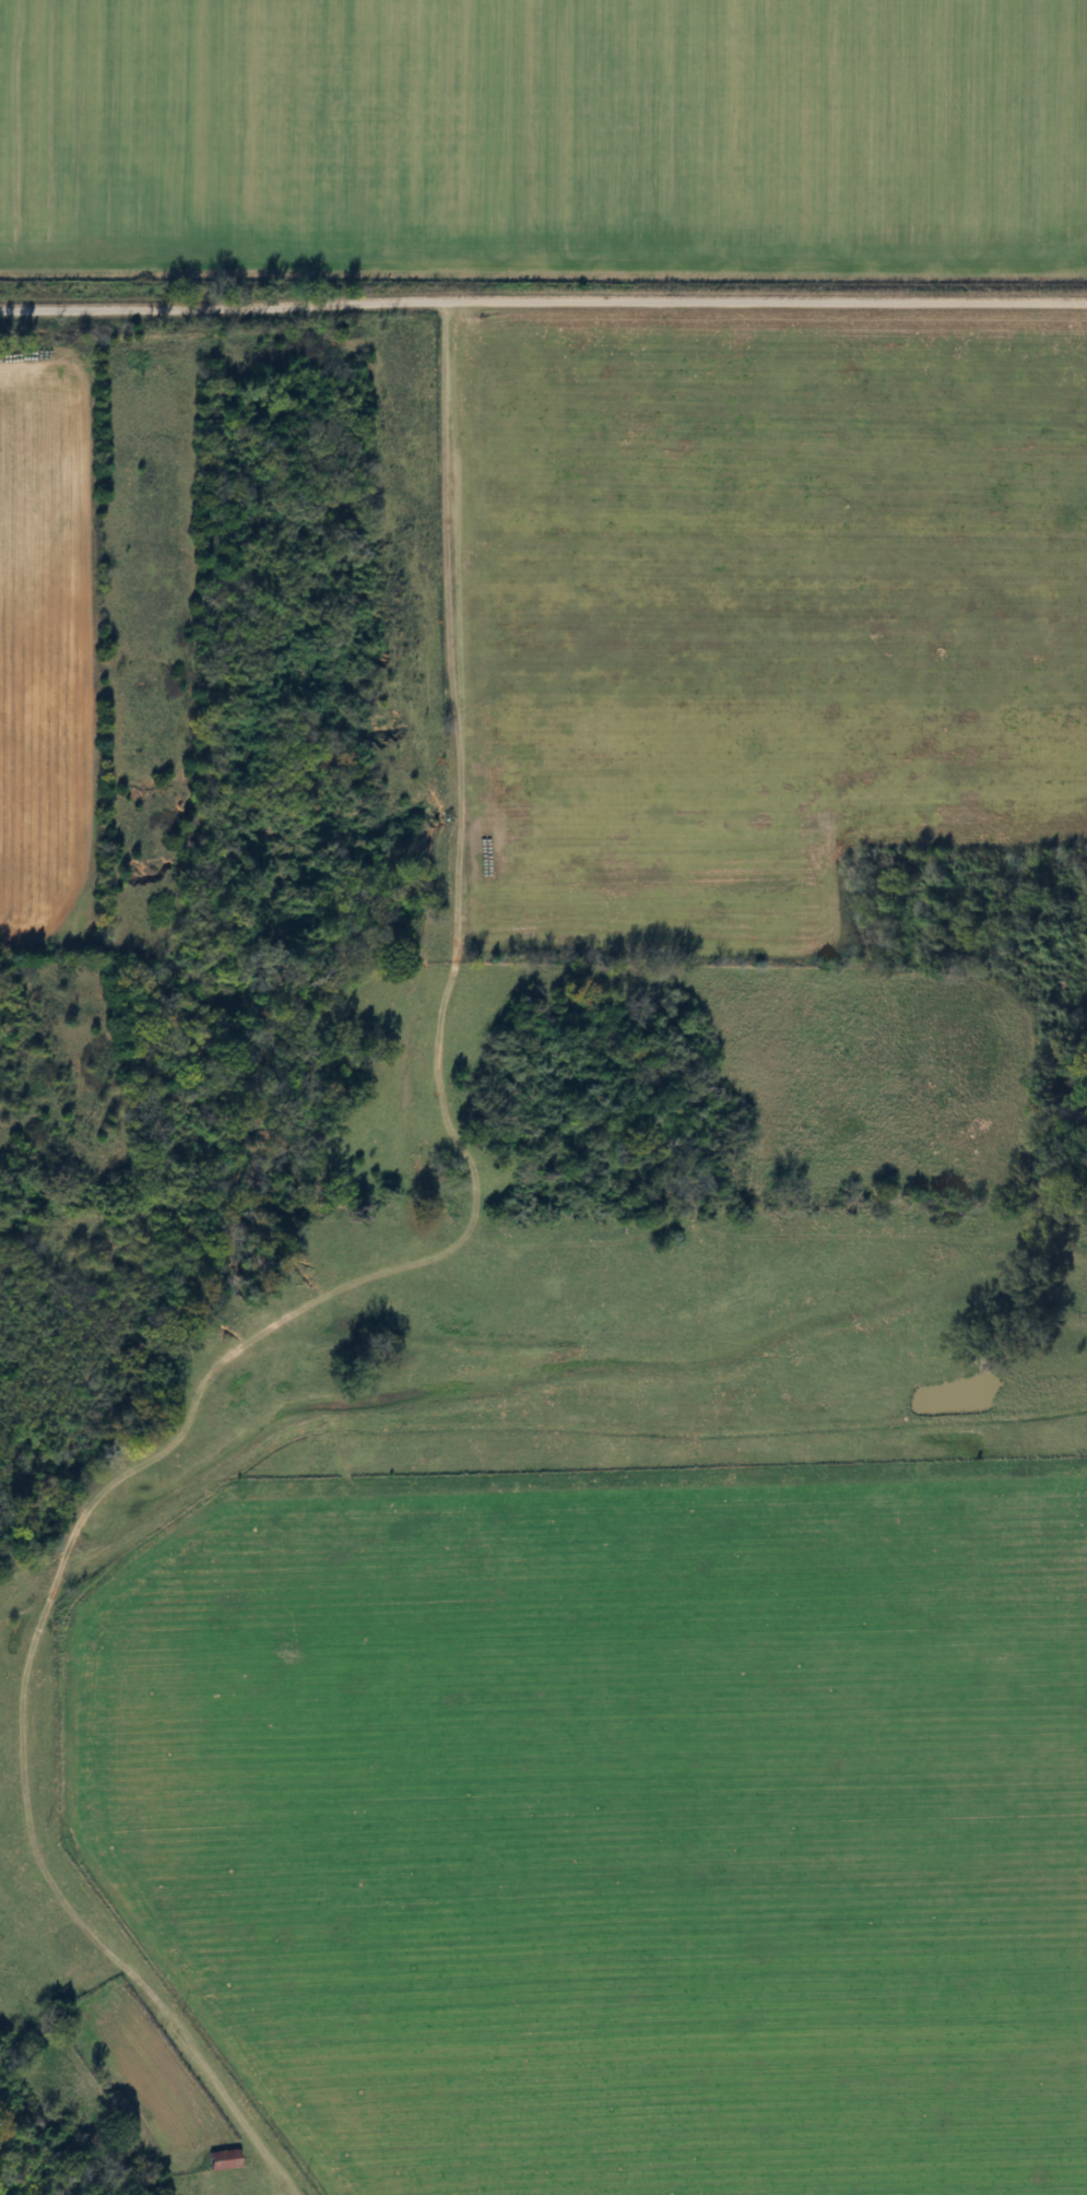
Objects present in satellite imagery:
road: (543, 305)
road: (367, 1011)
road: (133, 1957)

